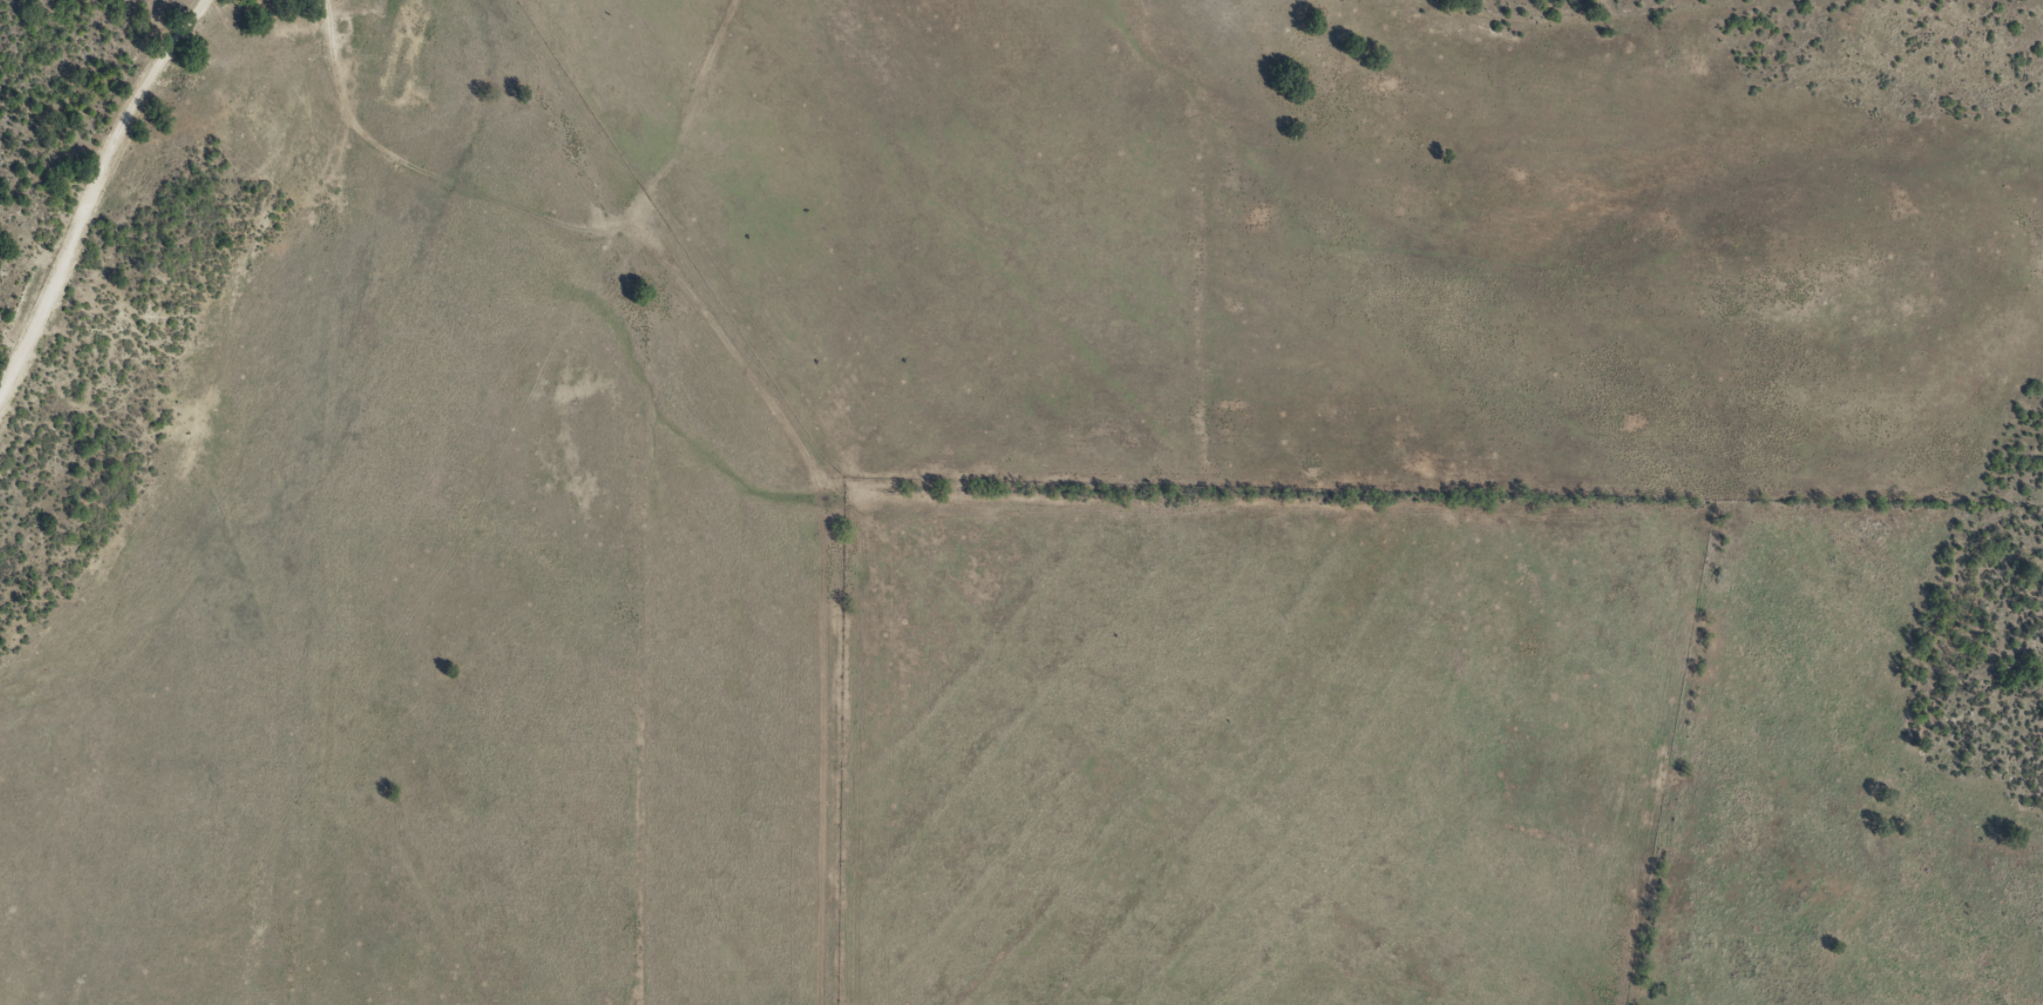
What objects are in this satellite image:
road: (123, 236)
road: (264, 499)

